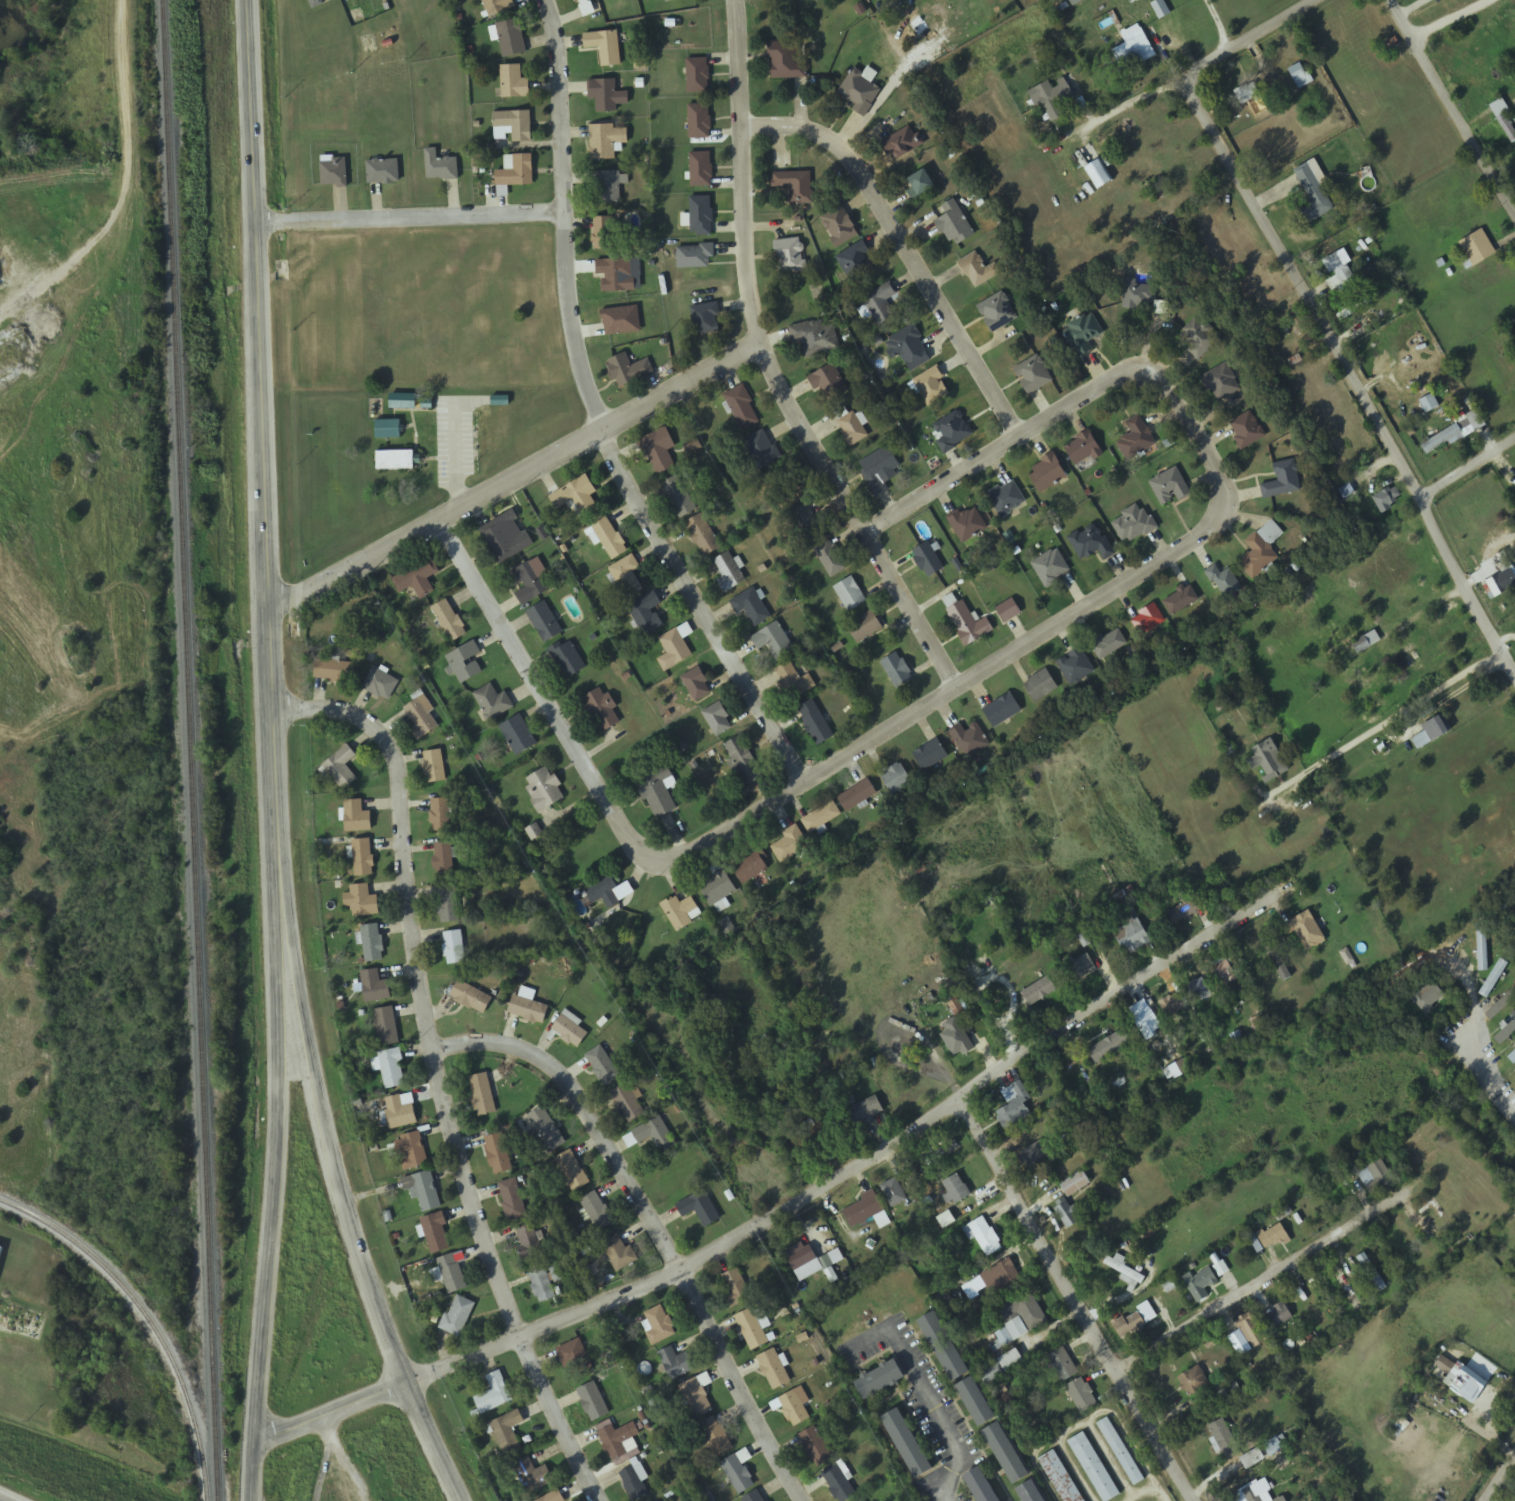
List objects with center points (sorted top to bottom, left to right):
building: (576, 0)
building: (668, 0)
building: (317, 2)
building: (1076, 2)
building: (498, 7)
building: (1161, 9)
road: (1451, 19)
building: (512, 38)
road: (1249, 39)
building: (605, 47)
building: (1133, 49)
building: (786, 62)
building: (698, 76)
building: (1303, 80)
building: (514, 83)
building: (860, 90)
building: (1248, 94)
building: (607, 96)
building: (1054, 98)
road: (1452, 103)
building: (1504, 118)
building: (700, 121)
building: (513, 126)
building: (606, 142)
building: (901, 143)
road: (422, 166)
building: (440, 167)
building: (701, 170)
building: (516, 171)
building: (383, 172)
building: (334, 173)
building: (921, 185)
building: (608, 186)
building: (796, 186)
building: (1158, 192)
building: (1314, 193)
road: (407, 216)
building: (701, 217)
building: (953, 223)
building: (840, 227)
building: (604, 234)
road: (906, 248)
building: (1478, 248)
building: (790, 256)
building: (695, 257)
building: (858, 262)
building: (1341, 268)
building: (979, 270)
building: (616, 276)
building: (1261, 282)
building: (1138, 296)
building: (1358, 306)
building: (886, 307)
building: (998, 312)
building: (706, 320)
building: (1083, 334)
building: (817, 338)
building: (1198, 339)
building: (909, 345)
road: (769, 365)
building: (628, 371)
road: (1352, 374)
building: (1034, 375)
building: (1221, 383)
building: (828, 384)
building: (932, 386)
building: (409, 402)
building: (743, 408)
road: (1063, 410)
road: (597, 416)
building: (852, 429)
building: (388, 430)
building: (1247, 431)
building: (952, 432)
building: (1453, 434)
building: (1136, 440)
building: (762, 450)
building: (1084, 450)
building: (658, 451)
building: (395, 461)
road: (1468, 466)
building: (880, 470)
building: (1048, 473)
road: (259, 478)
road: (512, 479)
building: (1284, 481)
building: (1170, 488)
building: (679, 497)
building: (577, 498)
building: (1007, 498)
building: (1388, 499)
building: (968, 524)
building: (1135, 526)
building: (703, 536)
building: (506, 538)
building: (610, 539)
building: (1091, 543)
building: (1262, 550)
building: (831, 558)
building: (928, 561)
building: (1051, 568)
building: (729, 573)
building: (627, 577)
building: (417, 579)
building: (1502, 580)
building: (1224, 582)
building: (530, 584)
building: (850, 595)
building: (1181, 601)
building: (752, 608)
building: (1009, 611)
building: (647, 615)
building: (1148, 620)
building: (449, 622)
building: (545, 623)
building: (969, 624)
building: (865, 627)
building: (774, 642)
building: (1366, 643)
building: (1110, 645)
building: (674, 651)
building: (567, 659)
building: (1406, 662)
building: (465, 664)
building: (1076, 667)
building: (332, 671)
building: (898, 671)
building: (381, 685)
building: (697, 685)
road: (954, 686)
building: (1041, 686)
road: (542, 692)
building: (493, 703)
building: (1003, 710)
building: (601, 711)
building: (421, 720)
building: (718, 720)
building: (815, 723)
building: (1432, 733)
building: (518, 736)
building: (968, 739)
railway: (190, 750)
building: (931, 755)
building: (744, 761)
building: (1268, 761)
building: (434, 767)
building: (342, 768)
building: (896, 778)
building: (544, 790)
building: (659, 793)
building: (858, 796)
building: (440, 816)
building: (357, 817)
building: (822, 818)
building: (790, 845)
building: (363, 858)
building: (444, 859)
building: (752, 866)
building: (718, 889)
building: (604, 892)
building: (362, 902)
building: (450, 904)
building: (1186, 909)
building: (681, 913)
building: (1307, 931)
building: (1133, 938)
building: (372, 944)
building: (454, 948)
building: (1482, 948)
building: (1276, 959)
building: (1080, 968)
building: (1226, 972)
building: (375, 988)
building: (1198, 991)
building: (1040, 992)
building: (1429, 997)
building: (471, 998)
building: (1504, 1004)
building: (1172, 1006)
building: (529, 1011)
building: (1147, 1022)
building: (387, 1027)
building: (1512, 1030)
building: (570, 1031)
building: (734, 1036)
building: (959, 1041)
building: (1112, 1046)
building: (1512, 1058)
building: (603, 1067)
building: (392, 1070)
road: (437, 1070)
road: (973, 1080)
building: (484, 1093)
building: (628, 1104)
building: (1014, 1106)
building: (866, 1111)
building: (401, 1112)
building: (547, 1132)
building: (651, 1136)
building: (810, 1138)
building: (943, 1151)
building: (411, 1152)
building: (498, 1155)
building: (1034, 1157)
building: (572, 1172)
building: (1377, 1178)
building: (1076, 1185)
building: (957, 1190)
building: (424, 1191)
building: (894, 1194)
road: (273, 1197)
building: (512, 1201)
building: (700, 1210)
building: (597, 1212)
building: (866, 1212)
building: (1067, 1215)
building: (1429, 1217)
road: (650, 1228)
road: (352, 1234)
building: (437, 1234)
building: (984, 1237)
building: (1269, 1238)
building: (531, 1244)
building: (1, 1251)
building: (620, 1254)
building: (801, 1260)
building: (1220, 1270)
building: (452, 1274)
building: (1127, 1274)
building: (1371, 1274)
building: (1004, 1275)
road: (1261, 1279)
building: (1204, 1285)
building: (542, 1287)
building: (736, 1289)
road: (1074, 1296)
building: (1023, 1315)
building: (1280, 1316)
building: (458, 1317)
railway: (146, 1321)
building: (1136, 1322)
building: (659, 1326)
building: (752, 1330)
building: (1251, 1332)
building: (1004, 1338)
building: (945, 1348)
building: (575, 1358)
building: (676, 1364)
building: (1063, 1365)
building: (1003, 1368)
building: (774, 1371)
building: (1459, 1380)
building: (881, 1381)
building: (1194, 1382)
building: (494, 1395)
building: (698, 1396)
building: (1082, 1396)
building: (593, 1403)
building: (977, 1403)
building: (796, 1408)
road: (331, 1413)
building: (508, 1433)
building: (716, 1438)
building: (1225, 1440)
building: (618, 1441)
building: (909, 1445)
building: (1274, 1447)
building: (816, 1448)
building: (1121, 1453)
building: (1007, 1454)
building: (1253, 1460)
building: (1094, 1468)
road: (253, 1469)
building: (739, 1472)
building: (532, 1477)
building: (1060, 1478)
road: (1500, 1478)
building: (635, 1484)
building: (839, 1484)
building: (981, 1486)
building: (1031, 1492)
building: (1258, 1493)
building: (554, 1497)
building: (755, 1497)
building: (1282, 1499)
building: (1513, 1499)
building: (1162, 1500)

